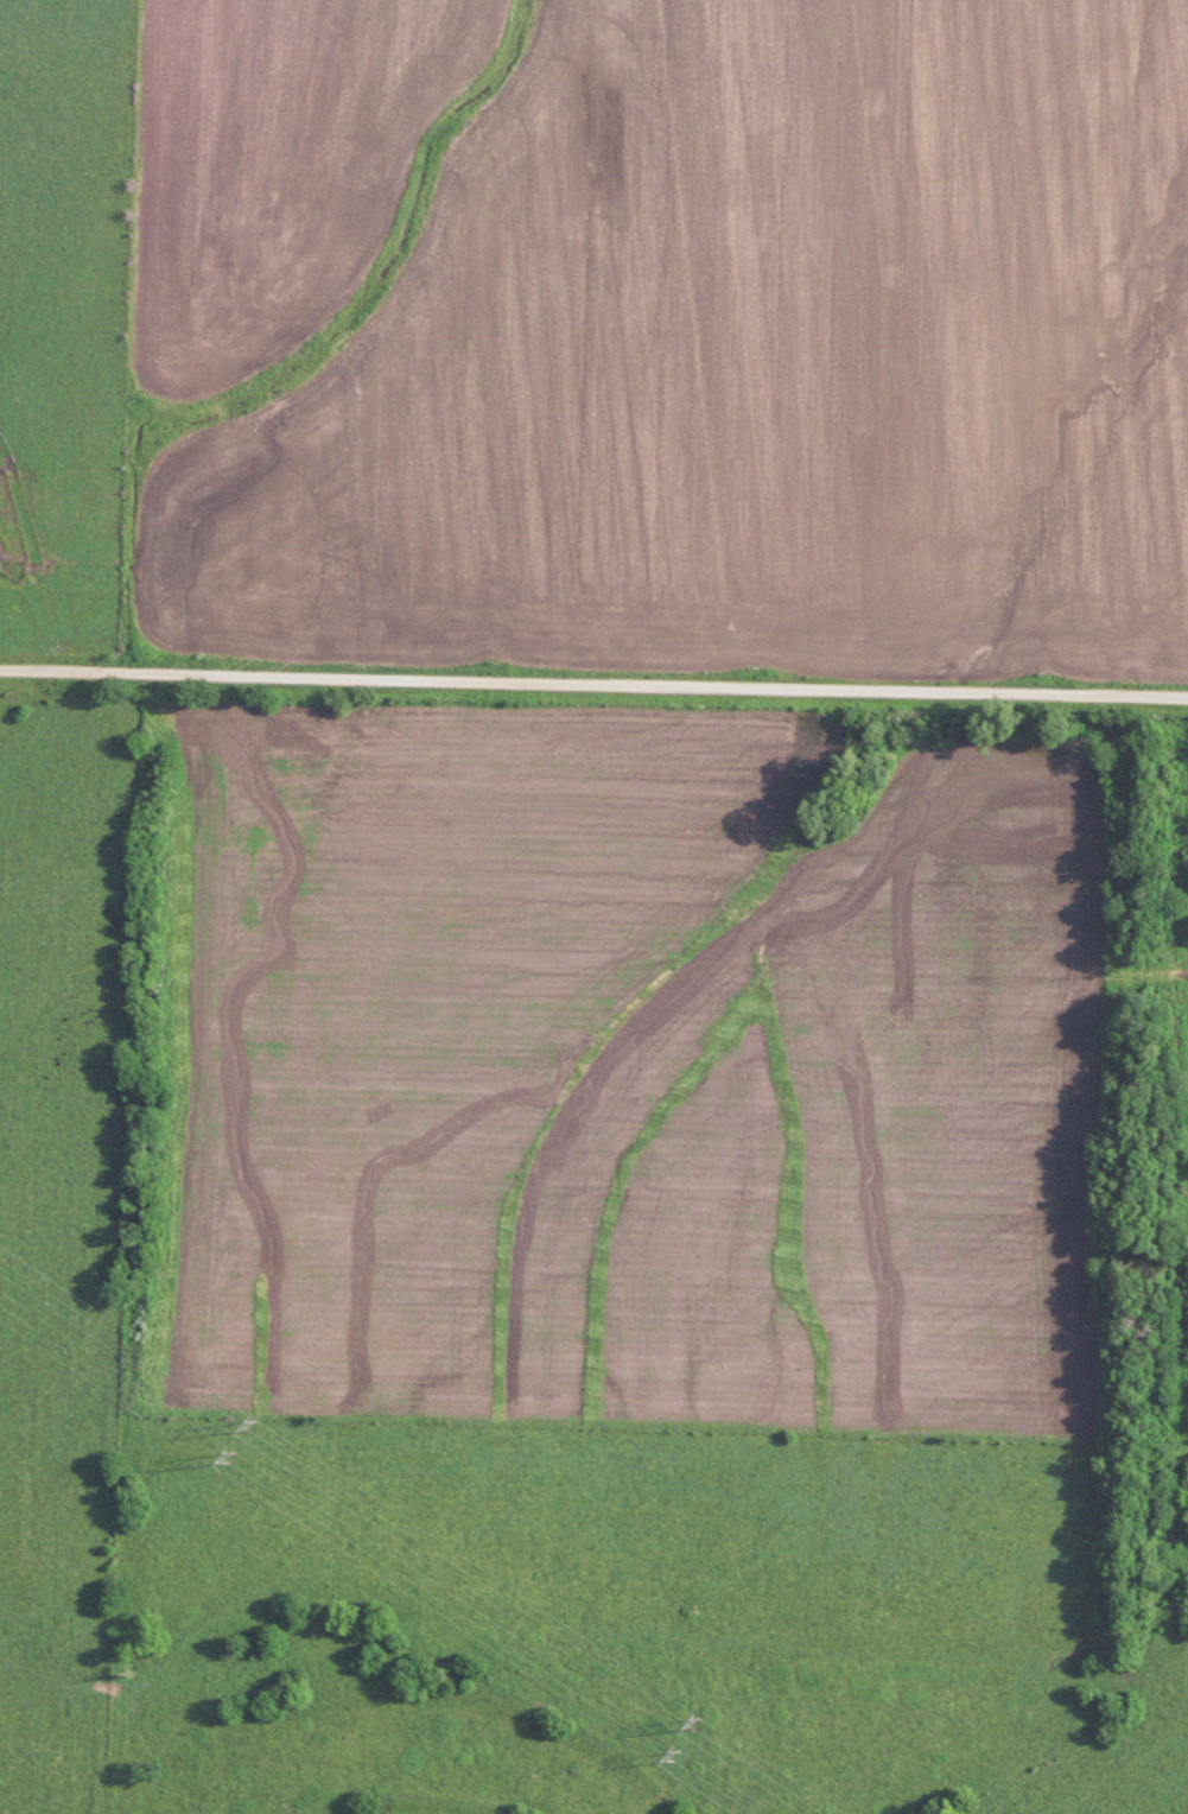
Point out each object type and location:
road: (593, 681)
power tower: (247, 1428)
power tower: (223, 1458)
power tower: (687, 1724)
power tower: (667, 1756)

